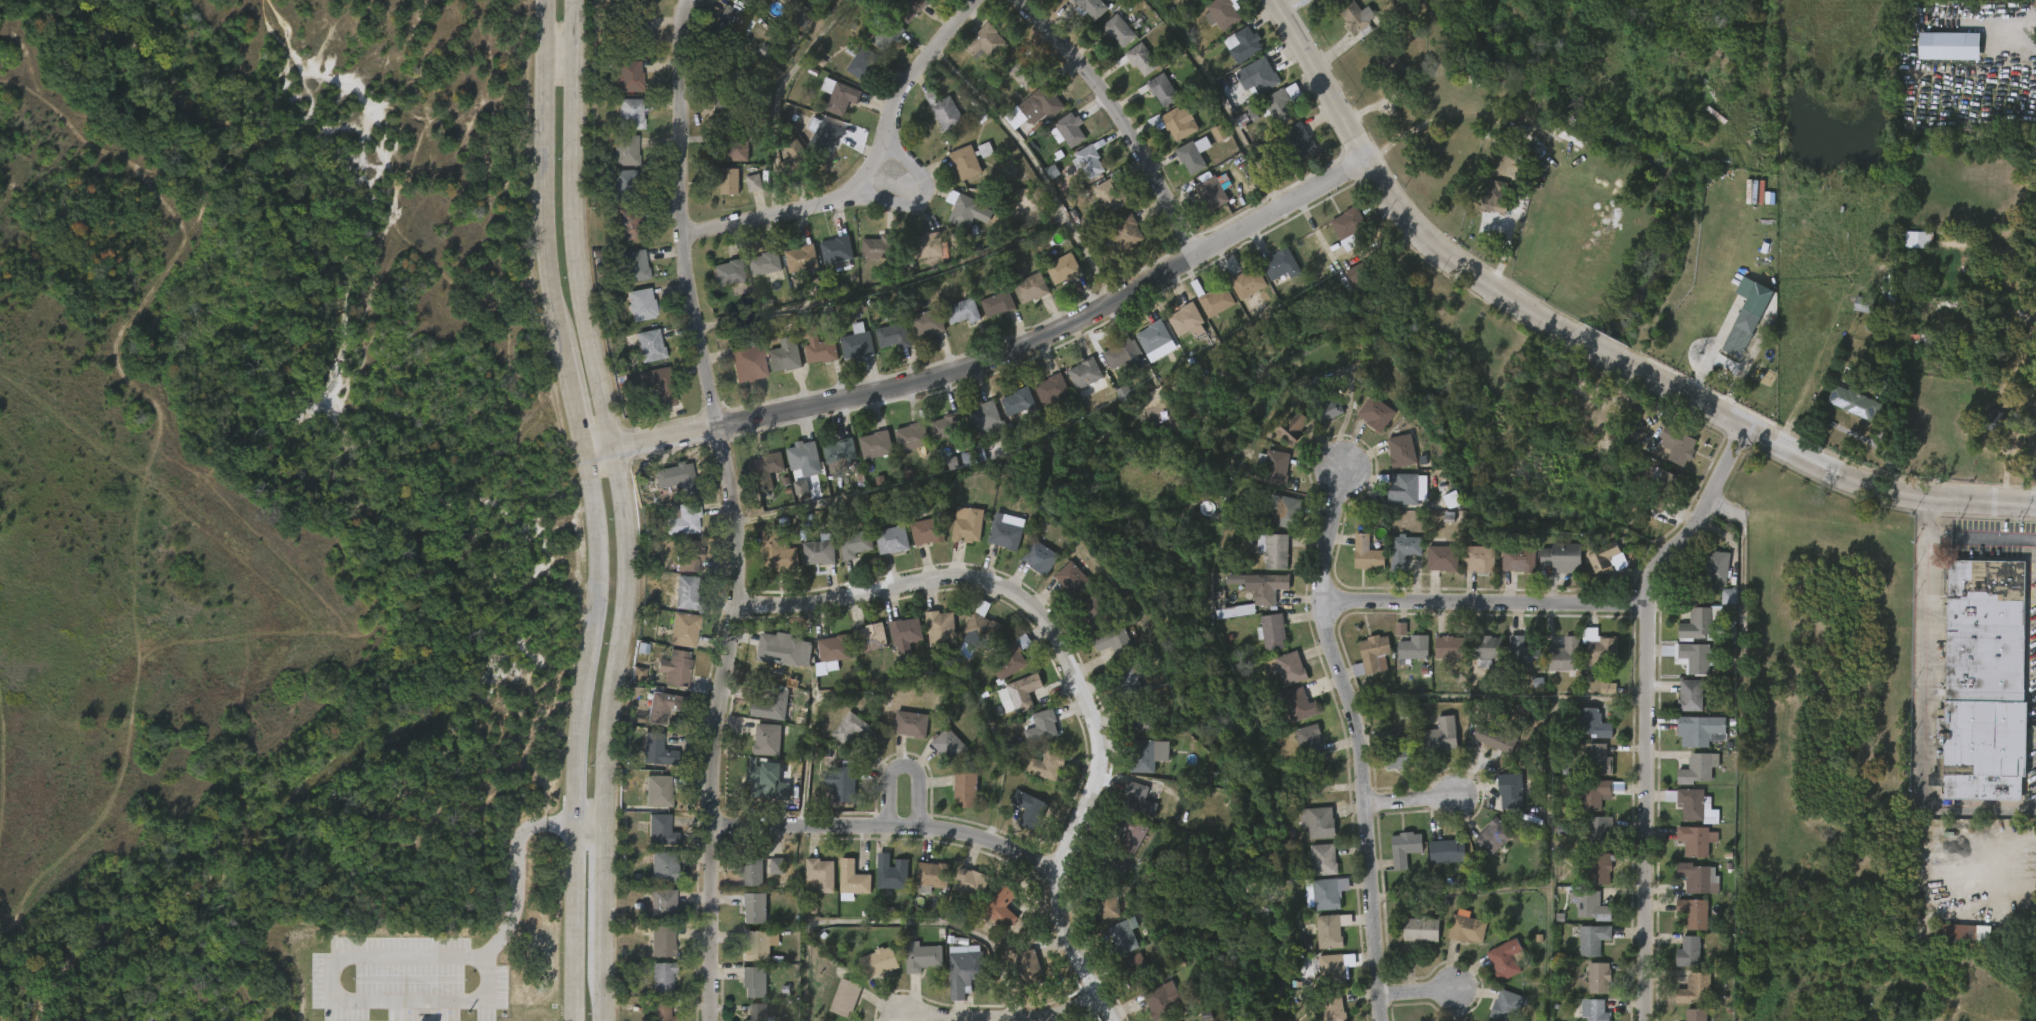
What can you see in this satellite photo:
building: (751, 0)
building: (1048, 0)
building: (628, 1)
building: (1332, 1)
building: (739, 3)
building: (1196, 3)
building: (2029, 6)
building: (1090, 7)
building: (906, 8)
building: (1222, 13)
building: (1081, 16)
building: (1357, 17)
building: (728, 23)
building: (1211, 25)
building: (794, 27)
building: (1346, 27)
building: (1118, 30)
building: (622, 34)
building: (885, 34)
building: (985, 42)
building: (1110, 42)
building: (1244, 45)
building: (875, 49)
building: (977, 53)
building: (1233, 55)
road: (557, 57)
building: (1138, 59)
building: (863, 62)
building: (1397, 70)
building: (1021, 71)
building: (1132, 71)
building: (851, 72)
building: (1381, 73)
building: (1261, 74)
building: (728, 75)
building: (627, 76)
building: (1013, 83)
building: (620, 88)
building: (1248, 88)
building: (1159, 89)
building: (837, 95)
building: (1150, 99)
building: (1284, 104)
building: (1037, 105)
building: (731, 106)
building: (830, 107)
building: (943, 112)
building: (628, 113)
building: (1270, 118)
road: (1109, 121)
building: (935, 122)
building: (1174, 123)
building: (621, 124)
building: (1070, 130)
building: (823, 135)
building: (1171, 135)
building: (1297, 141)
building: (1059, 142)
building: (735, 145)
building: (814, 146)
building: (623, 150)
building: (1288, 151)
building: (1193, 154)
building: (793, 158)
building: (1088, 159)
building: (616, 161)
building: (726, 161)
building: (964, 162)
road: (1039, 170)
road: (871, 172)
building: (956, 174)
building: (1080, 174)
building: (725, 179)
building: (620, 182)
building: (1216, 191)
building: (720, 192)
building: (1111, 192)
building: (745, 194)
building: (1496, 197)
road: (921, 203)
building: (1202, 204)
building: (1101, 207)
building: (1487, 207)
building: (966, 210)
building: (959, 222)
building: (627, 223)
building: (1349, 228)
building: (1124, 231)
building: (617, 234)
building: (1339, 239)
building: (1113, 243)
building: (925, 245)
building: (880, 247)
building: (1908, 250)
building: (835, 251)
building: (800, 258)
building: (868, 258)
building: (764, 263)
building: (828, 263)
building: (1283, 265)
building: (631, 266)
building: (1064, 267)
building: (791, 269)
building: (726, 273)
building: (1358, 273)
building: (756, 274)
building: (625, 276)
building: (1271, 276)
building: (1054, 280)
building: (719, 283)
building: (1249, 283)
road: (887, 286)
building: (1030, 287)
building: (1239, 294)
building: (1022, 299)
building: (1214, 299)
building: (997, 303)
building: (638, 304)
building: (961, 311)
building: (1207, 312)
building: (988, 315)
building: (1186, 317)
building: (953, 322)
building: (925, 323)
building: (1747, 327)
building: (1177, 332)
building: (918, 334)
building: (891, 335)
building: (1153, 336)
road: (1587, 341)
building: (855, 343)
building: (649, 344)
building: (817, 344)
building: (884, 346)
building: (1144, 347)
building: (848, 354)
building: (1121, 355)
building: (640, 356)
building: (783, 356)
building: (745, 361)
building: (811, 361)
road: (991, 368)
building: (1114, 368)
building: (1089, 376)
building: (658, 384)
building: (1076, 384)
building: (1053, 387)
building: (649, 396)
building: (1019, 400)
building: (1042, 400)
building: (1854, 403)
building: (1325, 408)
building: (1008, 412)
building: (1378, 413)
building: (984, 414)
building: (1843, 414)
building: (1319, 419)
building: (1992, 422)
building: (947, 424)
building: (1367, 424)
building: (1292, 428)
building: (976, 429)
building: (912, 436)
building: (938, 437)
building: (1282, 440)
building: (876, 444)
building: (1681, 445)
building: (902, 448)
building: (841, 450)
building: (1401, 451)
building: (866, 456)
building: (1668, 456)
building: (807, 458)
building: (2031, 459)
building: (830, 462)
building: (1392, 462)
building: (1273, 467)
building: (795, 469)
building: (765, 470)
building: (677, 477)
building: (1265, 479)
building: (758, 480)
building: (1404, 488)
building: (1667, 488)
building: (664, 489)
building: (1652, 493)
building: (792, 498)
road: (1728, 506)
road: (733, 508)
road: (585, 509)
road: (621, 509)
building: (1285, 511)
park: (284, 514)
park: (276, 516)
building: (684, 519)
building: (1276, 523)
building: (966, 524)
building: (924, 529)
building: (673, 531)
building: (1005, 531)
building: (890, 540)
building: (916, 542)
building: (853, 544)
road: (1978, 549)
building: (883, 551)
building: (1273, 551)
building: (1403, 551)
building: (776, 552)
building: (817, 552)
building: (1366, 555)
building: (1608, 555)
building: (688, 556)
building: (845, 556)
building: (1038, 557)
building: (1562, 558)
building: (1442, 559)
building: (1478, 559)
building: (1518, 560)
building: (1264, 561)
building: (1394, 561)
building: (809, 563)
building: (769, 564)
building: (1357, 565)
building: (679, 567)
building: (1030, 568)
building: (1433, 569)
building: (1552, 569)
building: (1596, 569)
building: (1719, 569)
building: (1469, 570)
building: (1508, 571)
building: (1072, 580)
building: (1706, 580)
building: (1272, 588)
building: (1062, 589)
building: (687, 592)
building: (1256, 598)
road: (1488, 601)
building: (676, 603)
building: (1719, 608)
building: (1095, 611)
building: (1083, 622)
building: (1701, 622)
building: (685, 628)
building: (939, 629)
building: (979, 631)
building: (1274, 631)
building: (868, 636)
building: (904, 636)
building: (674, 640)
building: (1113, 642)
building: (1264, 643)
building: (896, 646)
building: (1452, 646)
building: (1600, 646)
building: (861, 648)
building: (778, 649)
building: (833, 649)
building: (1414, 649)
building: (1487, 650)
building: (1104, 652)
building: (1376, 652)
building: (1526, 653)
building: (1567, 654)
building: (1438, 658)
building: (1695, 658)
building: (1011, 659)
building: (1404, 659)
building: (1592, 660)
building: (770, 661)
building: (824, 662)
building: (1366, 664)
building: (1554, 666)
building: (675, 668)
building: (1289, 668)
building: (1684, 668)
road: (1066, 670)
building: (1001, 671)
building: (1278, 678)
building: (667, 679)
building: (1348, 681)
building: (1979, 681)
building: (1124, 683)
building: (629, 684)
building: (1022, 692)
building: (1690, 696)
building: (1598, 699)
building: (1014, 702)
building: (1301, 704)
building: (770, 706)
building: (1680, 706)
building: (665, 707)
road: (1646, 708)
building: (1289, 715)
building: (648, 717)
building: (1136, 717)
road: (1916, 720)
building: (909, 724)
building: (1593, 724)
building: (1039, 727)
building: (851, 730)
building: (1700, 731)
building: (901, 735)
building: (1583, 735)
building: (1440, 736)
building: (1497, 738)
building: (842, 739)
building: (766, 740)
building: (1311, 741)
road: (1359, 741)
building: (948, 746)
building: (1299, 749)
building: (1484, 749)
building: (655, 750)
building: (758, 750)
building: (1398, 752)
building: (939, 756)
building: (1142, 756)
building: (1598, 759)
building: (647, 762)
building: (1046, 763)
road: (902, 765)
building: (1697, 768)
building: (1590, 770)
building: (1386, 773)
building: (1037, 776)
building: (759, 778)
building: (1313, 779)
building: (841, 781)
road: (2035, 788)
building: (965, 789)
building: (655, 790)
building: (1510, 790)
building: (1594, 792)
building: (833, 795)
building: (1137, 798)
road: (1411, 800)
building: (648, 801)
building: (956, 801)
building: (1501, 802)
building: (1693, 803)
building: (1585, 805)
building: (1029, 808)
building: (1129, 809)
building: (1687, 816)
building: (1019, 818)
road: (587, 822)
building: (1321, 822)
road: (889, 827)
building: (658, 829)
building: (1602, 831)
building: (1131, 832)
building: (1309, 832)
building: (1493, 835)
building: (1590, 839)
building: (651, 840)
building: (1696, 840)
building: (1121, 843)
building: (1404, 847)
building: (1482, 848)
building: (1446, 850)
building: (1686, 851)
building: (1325, 859)
building: (1395, 859)
building: (1109, 863)
building: (664, 866)
building: (1601, 866)
building: (2033, 867)
building: (1313, 870)
building: (751, 871)
building: (818, 874)
building: (893, 874)
building: (767, 876)
building: (929, 876)
building: (654, 877)
building: (1697, 878)
building: (1590, 879)
building: (851, 880)
building: (969, 882)
building: (743, 883)
building: (810, 885)
building: (884, 886)
building: (1687, 890)
building: (843, 891)
building: (958, 892)
building: (1328, 894)
building: (661, 901)
building: (1104, 902)
building: (1317, 904)
building: (1591, 906)
building: (752, 907)
building: (999, 909)
building: (1694, 912)
building: (653, 913)
building: (1097, 916)
building: (1580, 916)
building: (744, 918)
road: (891, 920)
building: (1684, 924)
building: (1466, 927)
building: (1421, 928)
building: (1330, 931)
building: (1956, 933)
building: (1123, 936)
building: (1457, 938)
building: (1593, 939)
building: (1411, 940)
building: (661, 941)
building: (1319, 942)
building: (758, 945)
building: (1952, 945)
building: (1113, 947)
building: (1583, 950)
building: (1689, 951)
building: (653, 953)
building: (921, 957)
road: (390, 958)
building: (1505, 959)
building: (877, 961)
building: (1679, 963)
building: (1030, 965)
building: (913, 967)
building: (964, 969)
building: (1332, 969)
building: (1135, 970)
building: (870, 973)
building: (660, 977)
building: (1598, 977)
building: (1019, 978)
building: (1322, 979)
building: (752, 980)
building: (653, 988)
building: (1589, 988)
building: (1694, 988)
building: (744, 992)
road: (1416, 992)
building: (844, 997)
building: (1685, 999)
building: (1159, 1001)
building: (1506, 1005)
building: (1334, 1006)
building: (1149, 1009)
building: (1594, 1009)
building: (659, 1011)
building: (757, 1012)
building: (1696, 1014)
building: (1582, 1015)
road: (1003, 1020)

